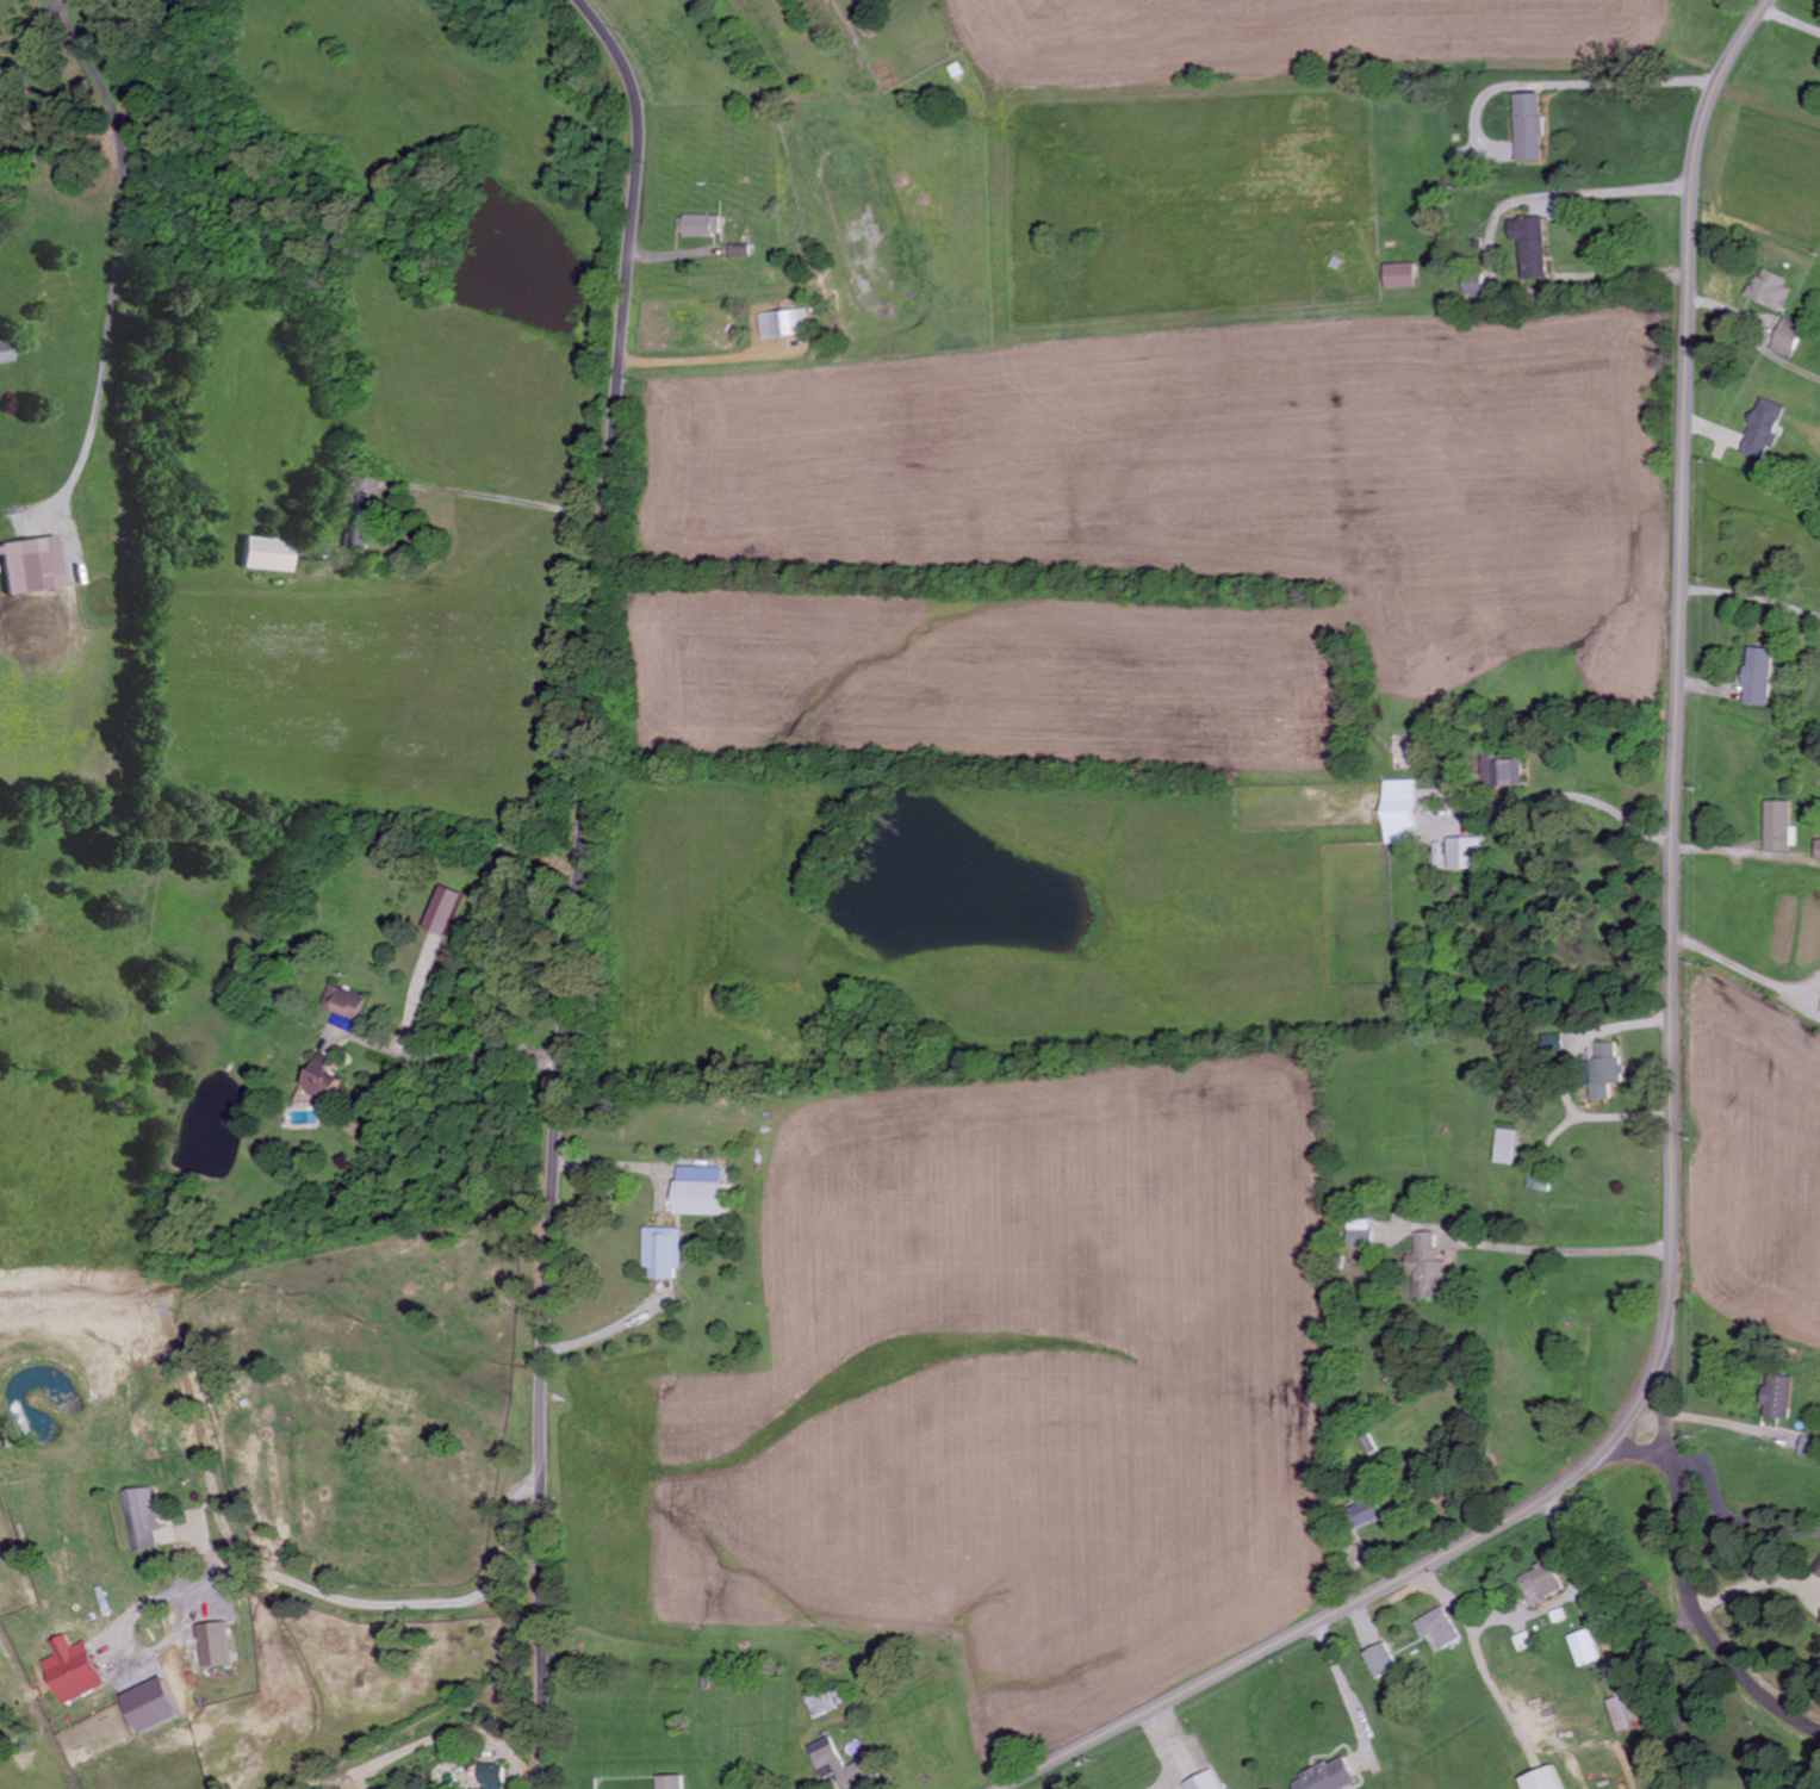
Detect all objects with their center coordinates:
building: (1528, 128)
building: (701, 226)
building: (1529, 246)
building: (1399, 277)
building: (1473, 285)
building: (1769, 290)
building: (784, 324)
building: (1787, 338)
building: (4, 350)
building: (1760, 431)
building: (356, 529)
building: (262, 554)
building: (30, 565)
building: (1757, 677)
building: (1501, 772)
building: (1398, 813)
building: (1778, 828)
building: (1818, 850)
building: (1462, 853)
road: (579, 886)
building: (441, 912)
building: (341, 1002)
building: (1819, 1014)
road: (1673, 1070)
building: (1603, 1071)
building: (318, 1079)
building: (1504, 1148)
building: (700, 1192)
building: (1359, 1236)
building: (661, 1253)
building: (1424, 1268)
building: (1776, 1398)
building: (1807, 1447)
building: (1365, 1514)
road: (1679, 1560)
building: (1816, 1569)
building: (1540, 1584)
building: (1436, 1629)
building: (211, 1646)
building: (1585, 1650)
building: (1379, 1661)
building: (70, 1672)
building: (825, 1704)
building: (1625, 1714)
building: (839, 1766)
building: (1325, 1777)
building: (1542, 1781)
building: (1204, 1782)
building: (669, 1783)

